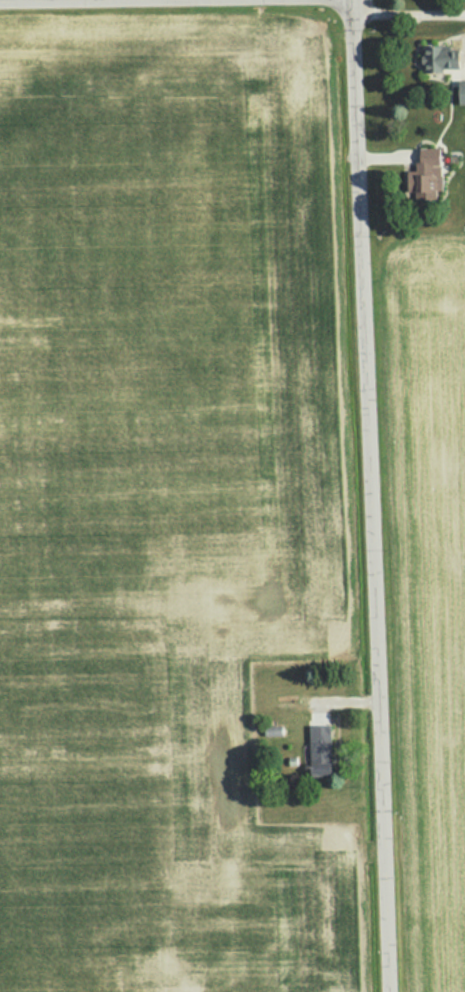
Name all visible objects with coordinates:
road: (408, 14)
building: (438, 60)
building: (460, 92)
building: (423, 177)
road: (363, 496)
building: (315, 748)

